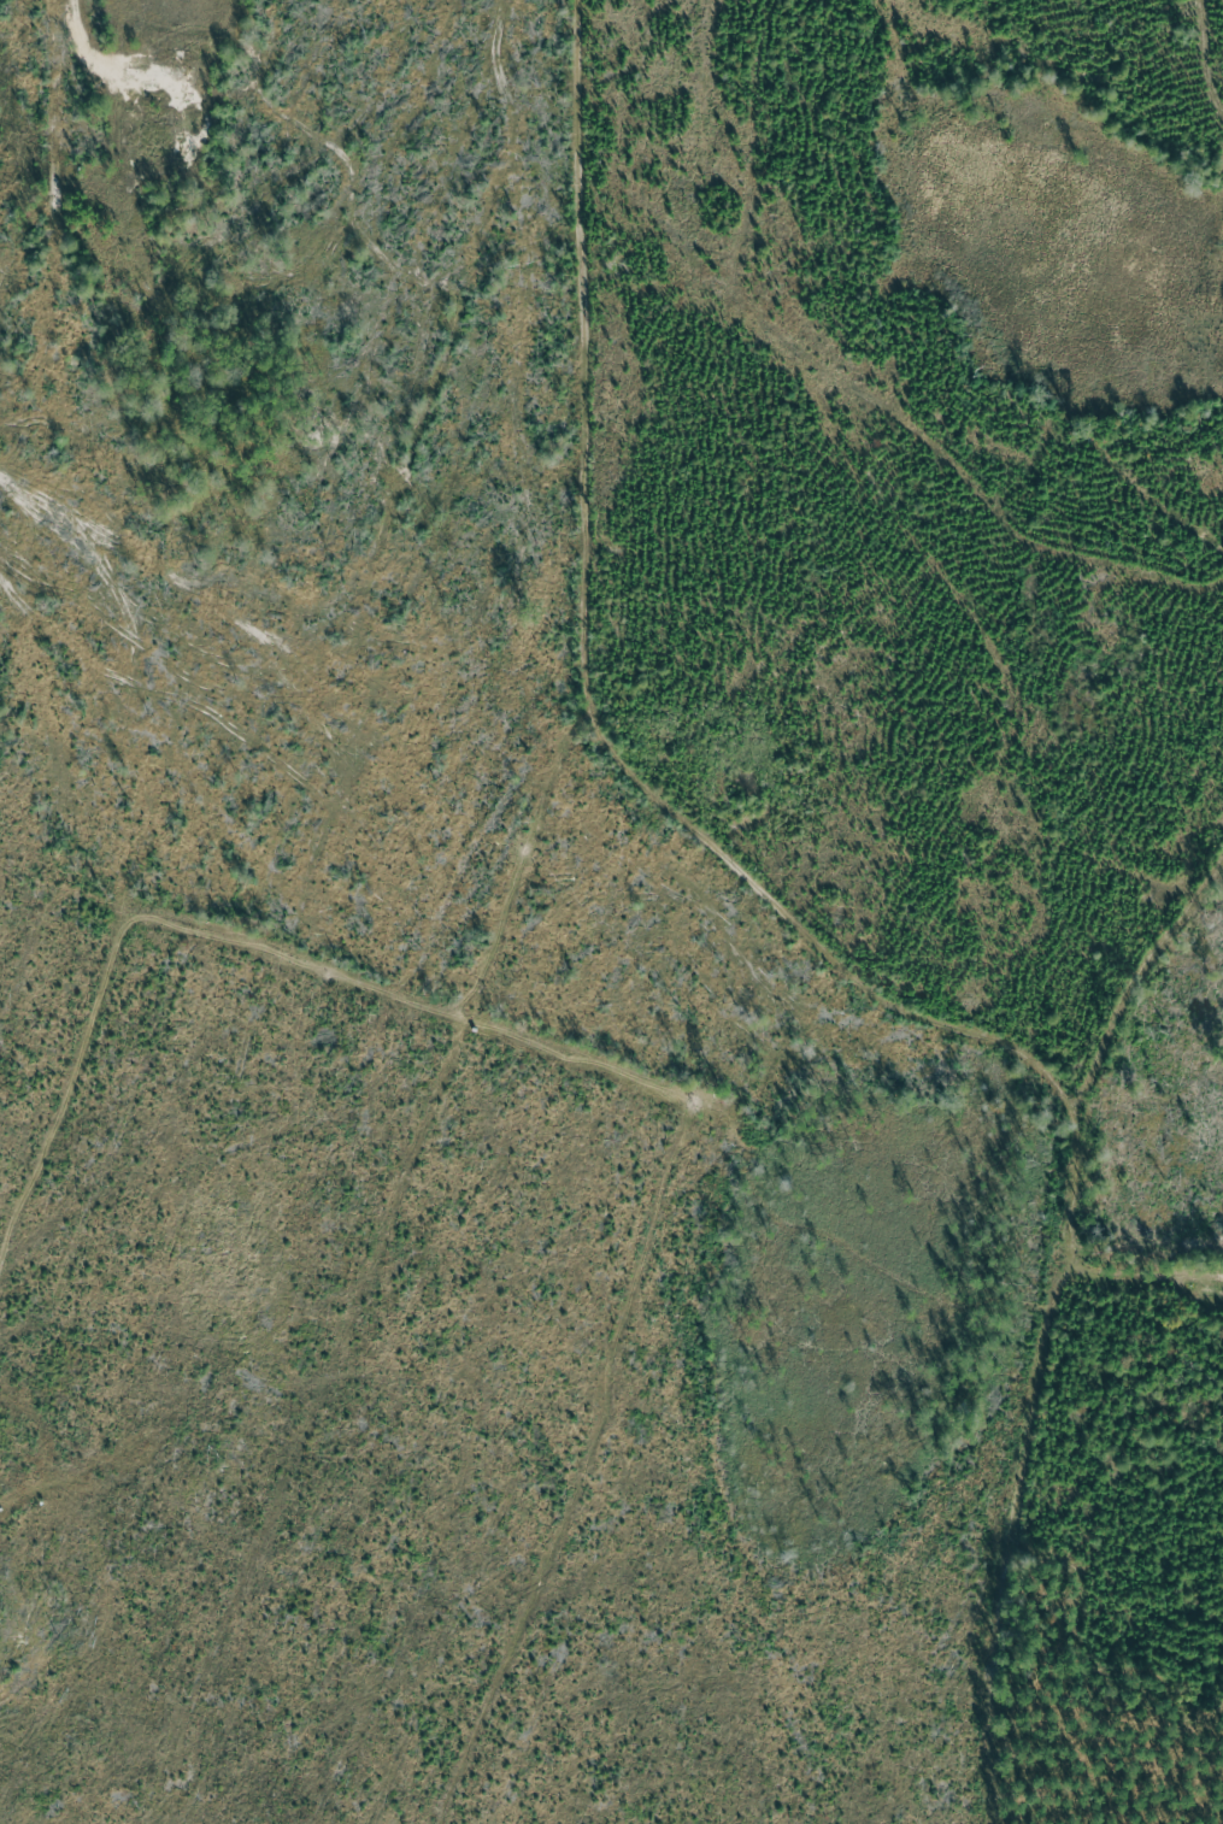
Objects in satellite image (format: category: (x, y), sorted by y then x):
road: (88, 25)

